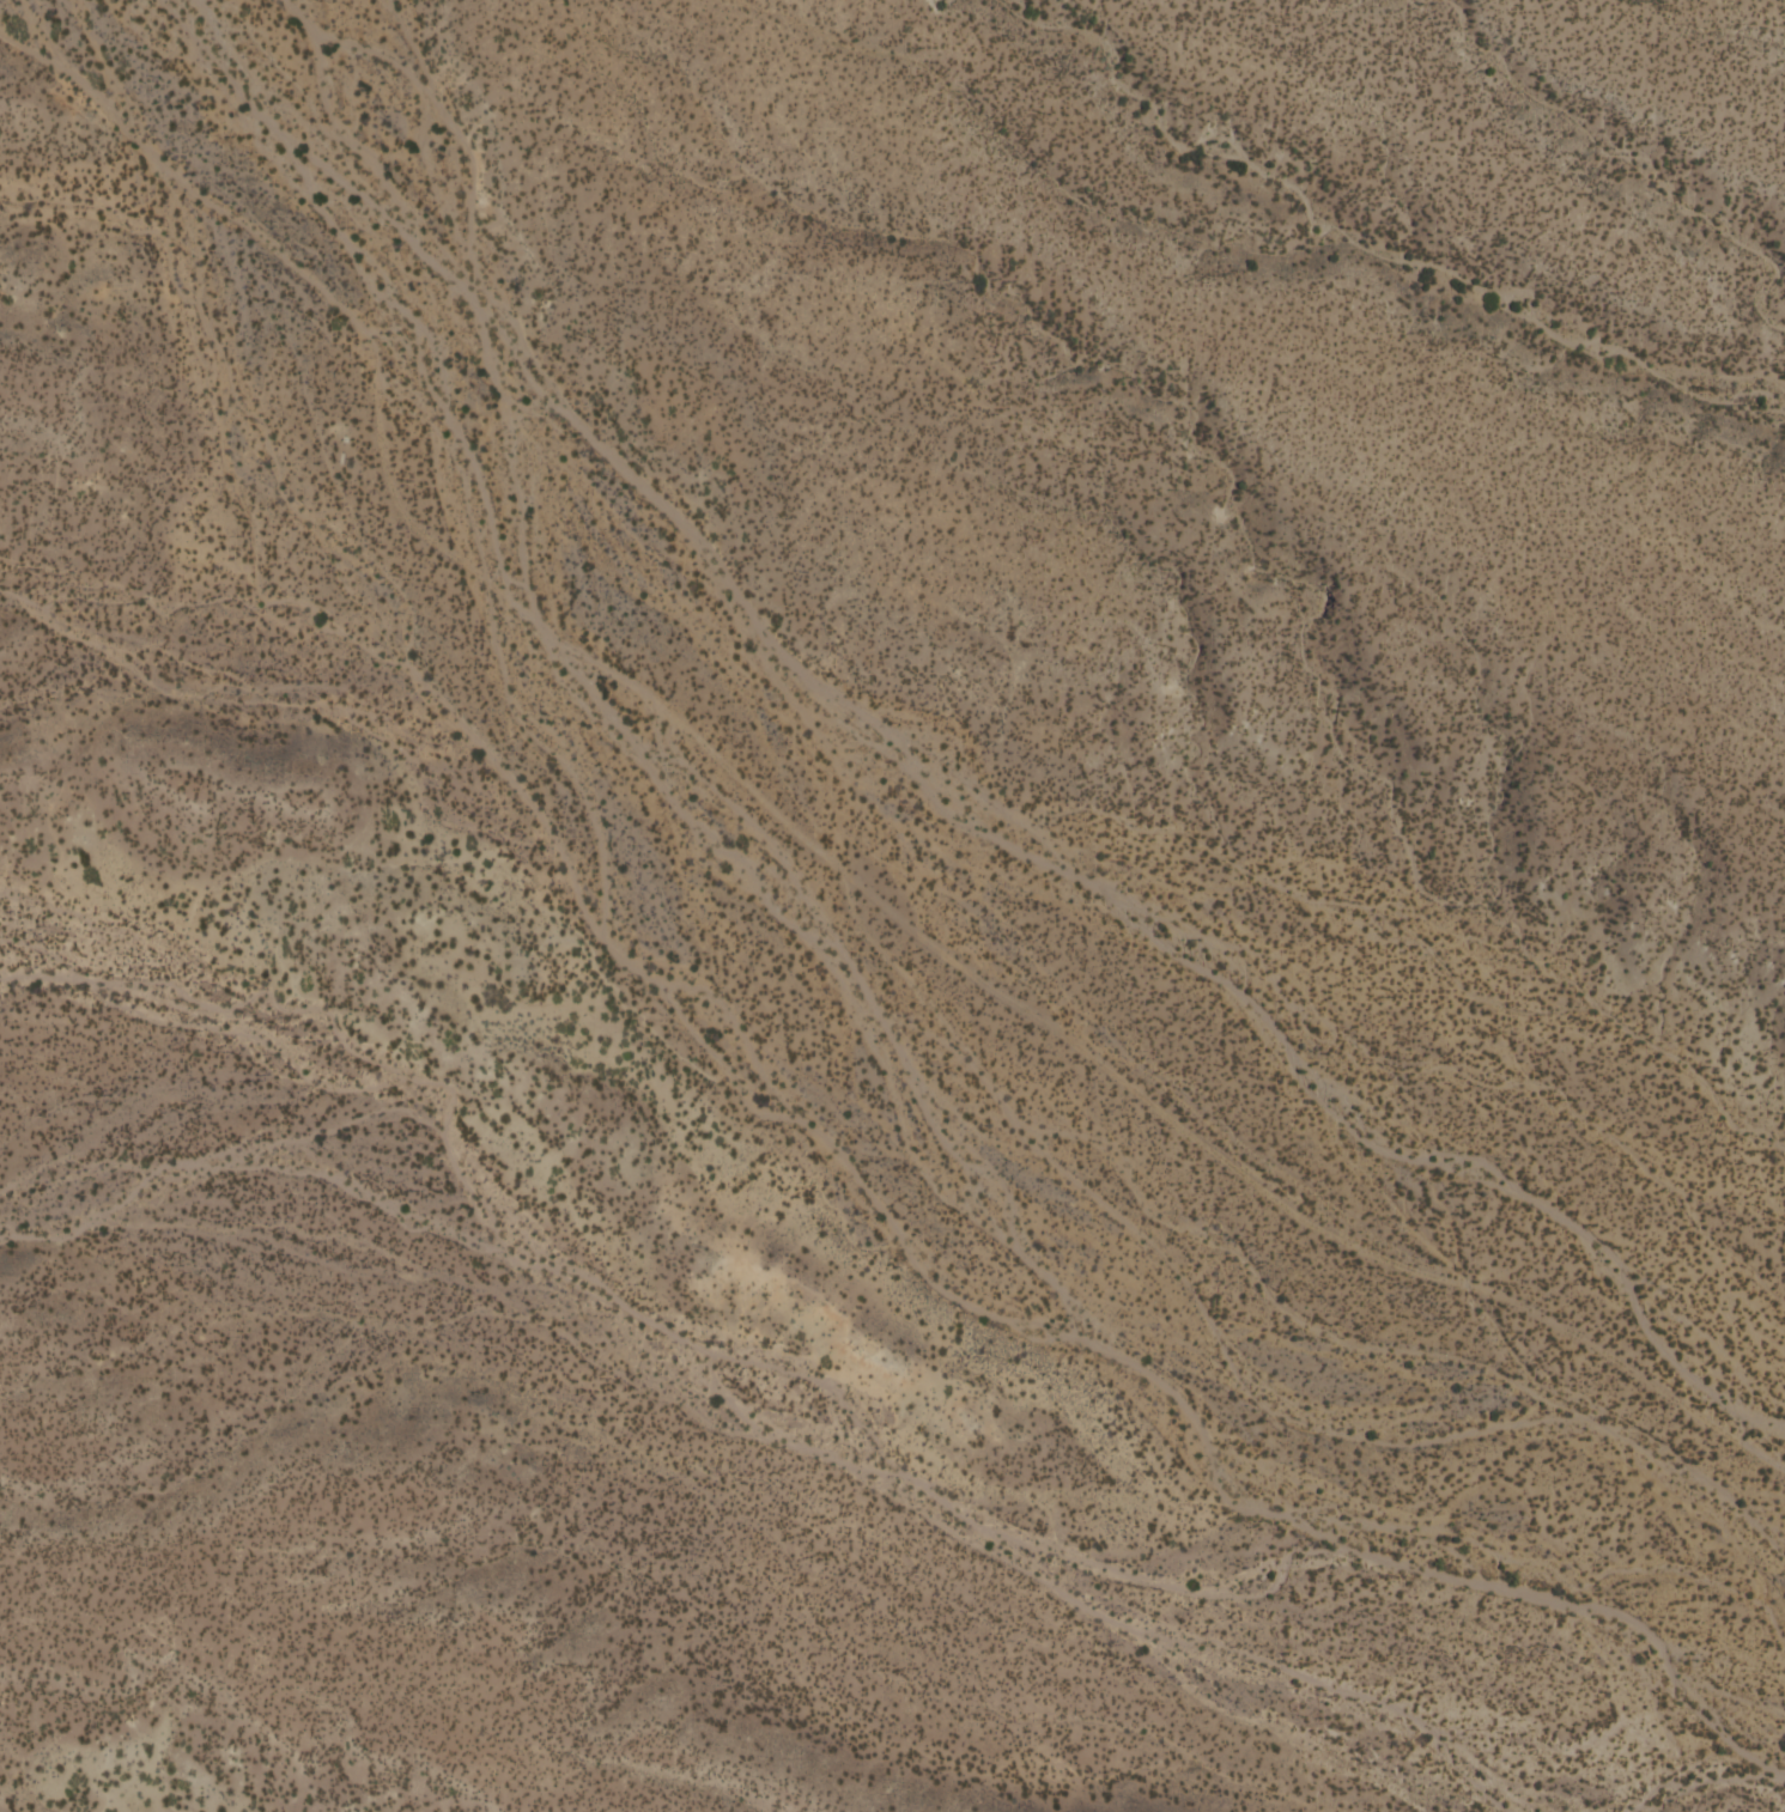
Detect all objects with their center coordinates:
road: (827, 859)

